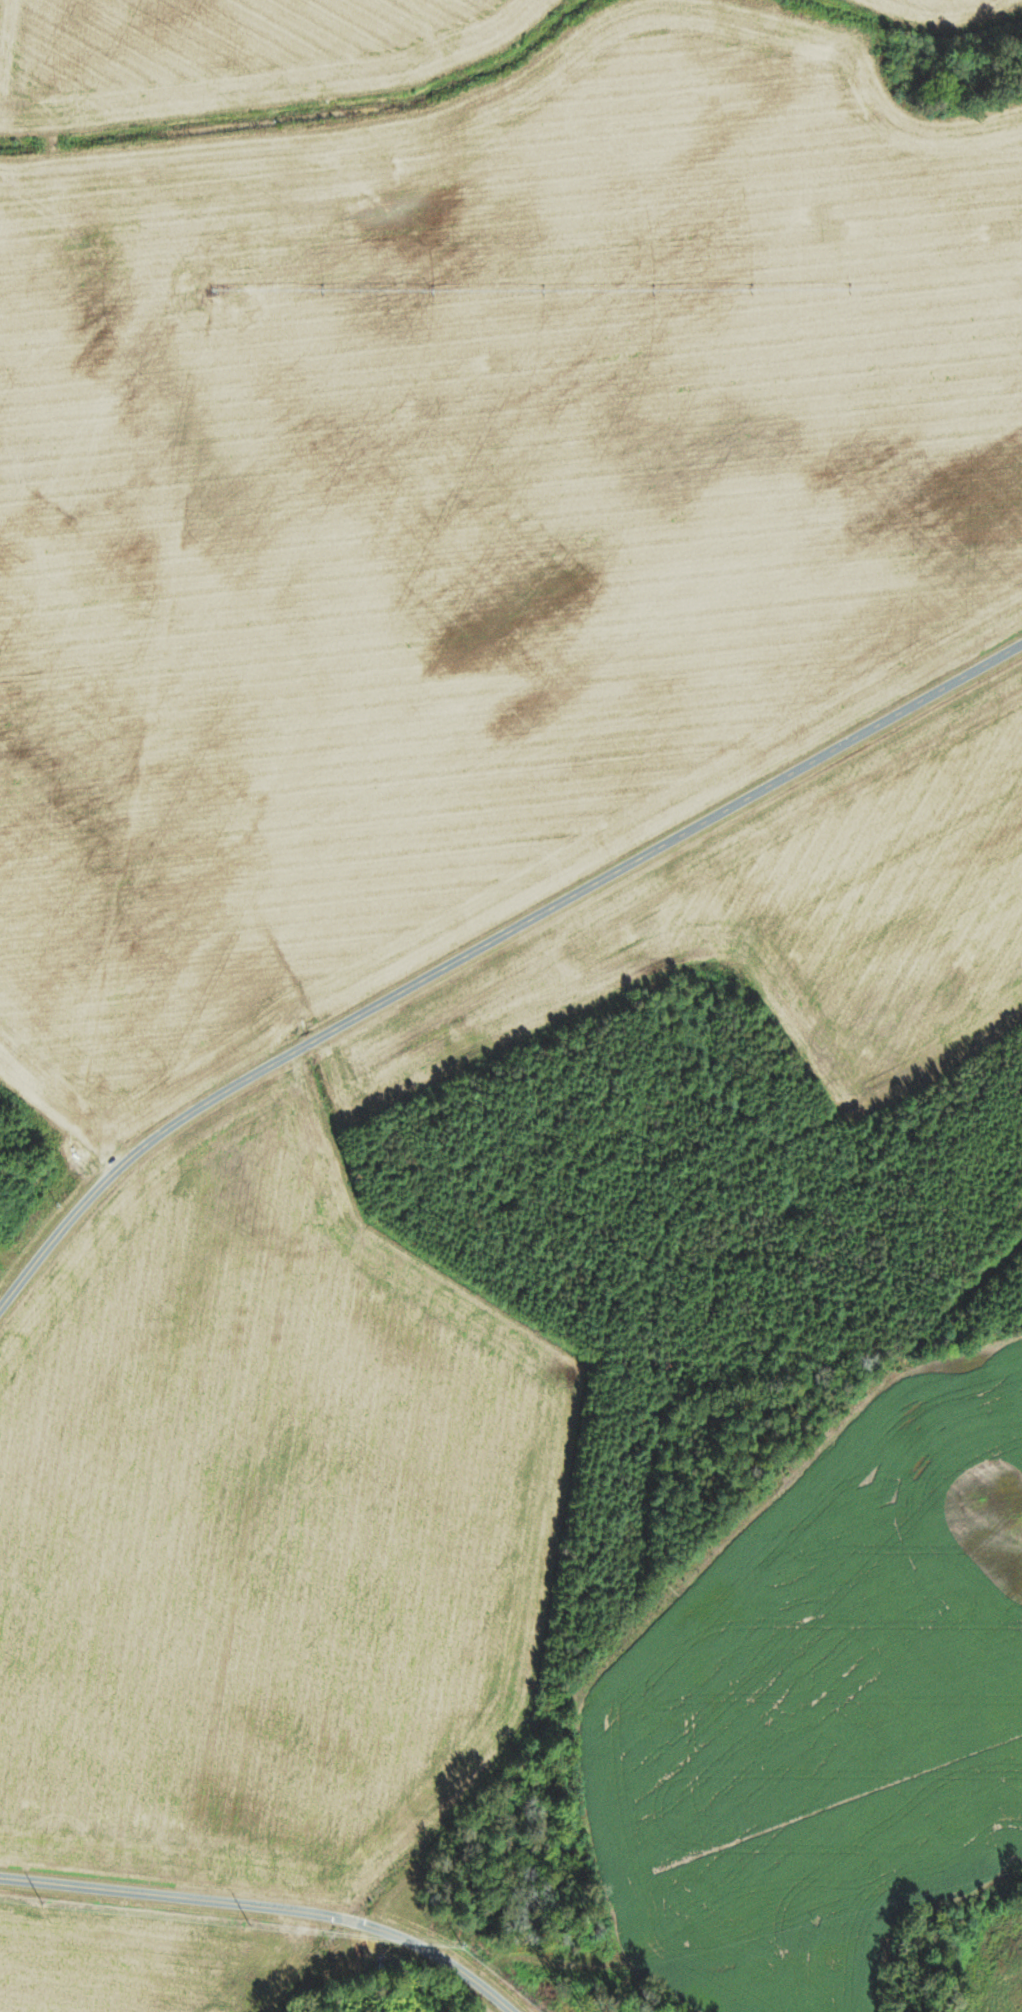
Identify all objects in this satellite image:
road: (485, 945)
railway: (643, 1620)
road: (268, 1907)

